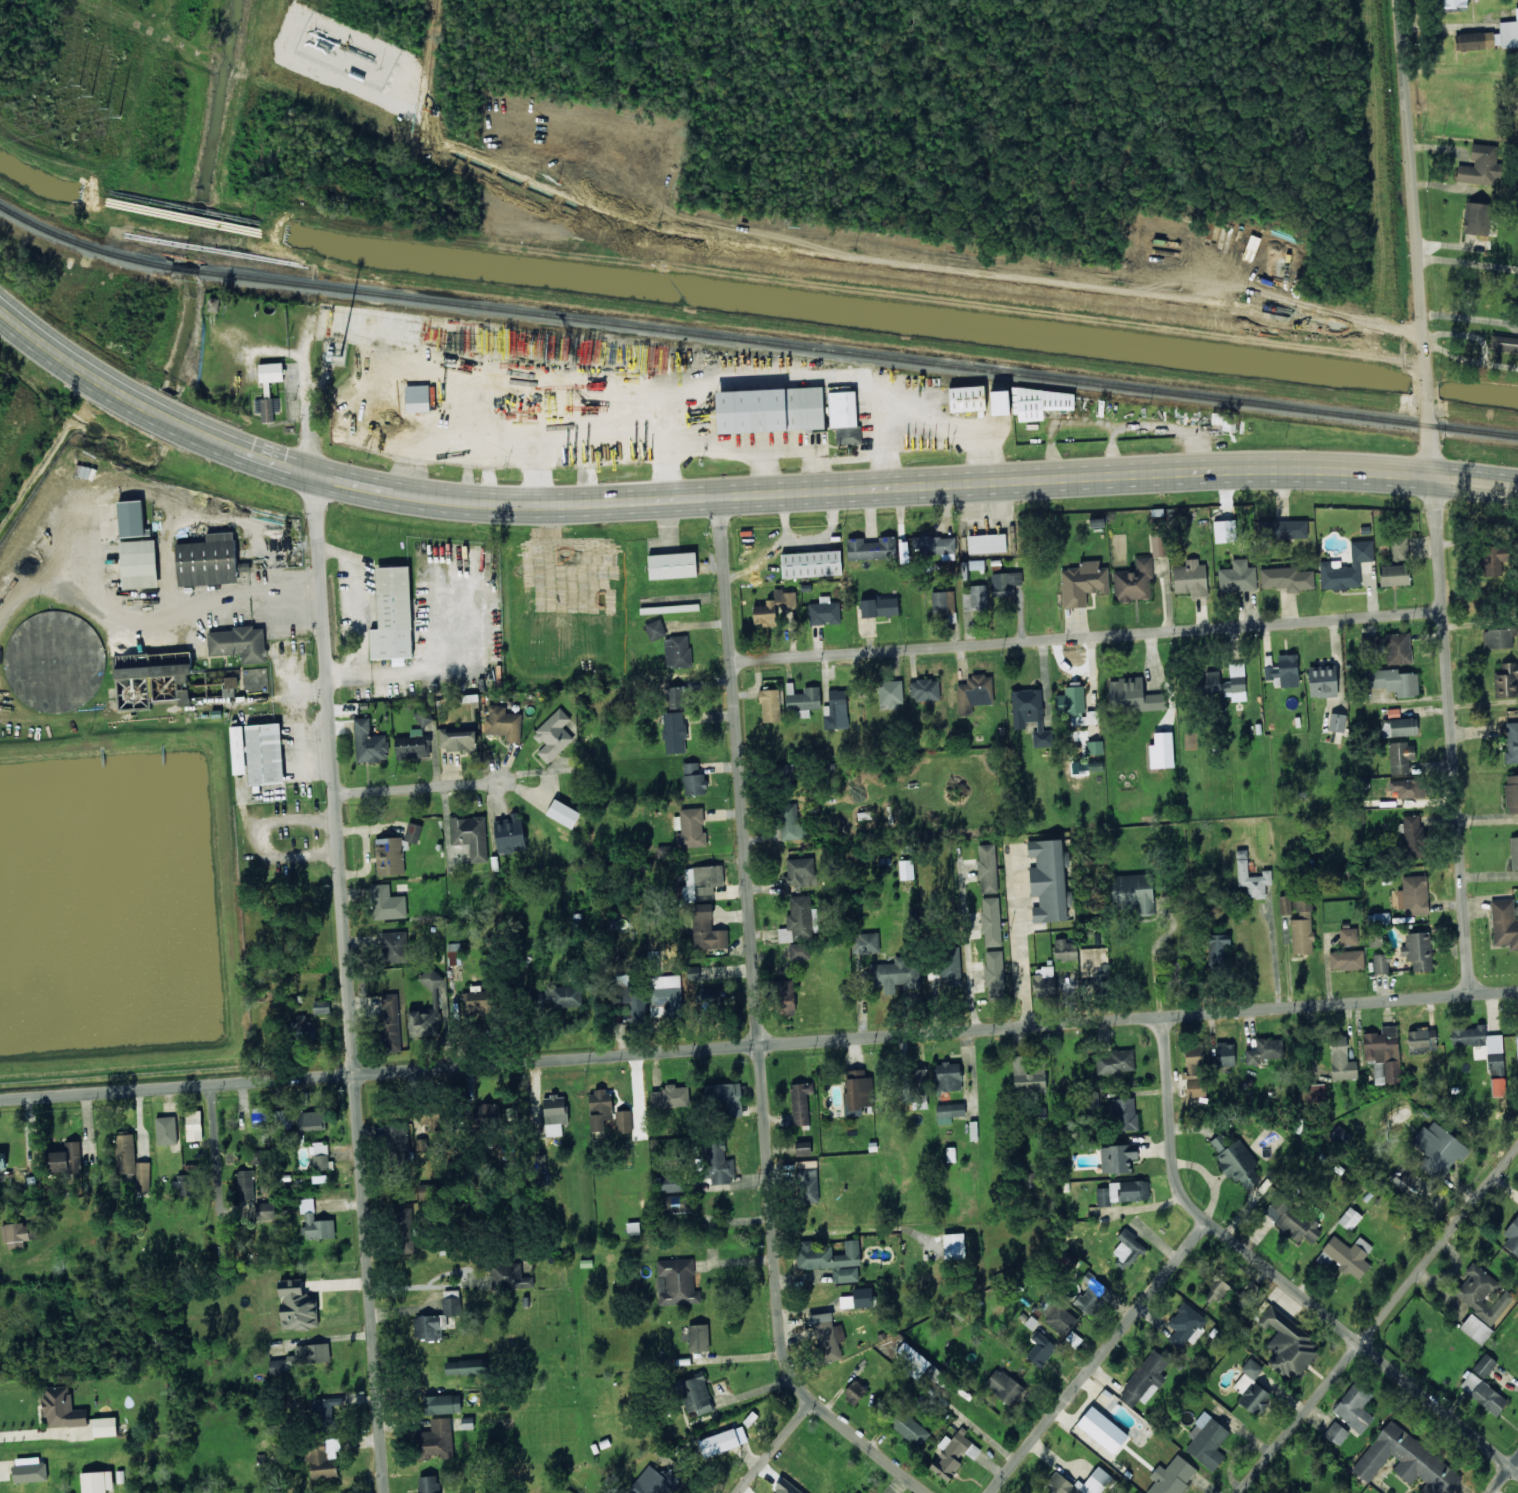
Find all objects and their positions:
building: (1454, 5)
building: (1490, 37)
building: (1480, 166)
building: (1475, 218)
road: (1468, 263)
building: (211, 304)
building: (374, 325)
railway: (753, 340)
building: (271, 372)
building: (417, 398)
building: (495, 399)
building: (967, 399)
building: (1000, 402)
building: (1040, 402)
building: (747, 407)
building: (267, 408)
building: (844, 416)
building: (1221, 423)
building: (84, 475)
road: (734, 495)
road: (1436, 498)
building: (131, 518)
building: (1285, 529)
building: (1224, 531)
building: (987, 543)
building: (935, 545)
building: (1158, 545)
building: (871, 548)
building: (1399, 548)
building: (1493, 559)
building: (207, 561)
building: (138, 562)
building: (810, 562)
building: (673, 564)
building: (1346, 567)
building: (1394, 575)
building: (1237, 576)
building: (1191, 578)
building: (1287, 578)
building: (1134, 582)
building: (1005, 583)
building: (1083, 583)
building: (979, 596)
building: (943, 602)
building: (773, 607)
building: (879, 607)
building: (394, 609)
building: (824, 611)
building: (1517, 614)
building: (655, 629)
road: (1088, 635)
building: (1498, 638)
building: (239, 643)
building: (1398, 648)
building: (677, 651)
building: (1284, 671)
building: (1506, 680)
building: (182, 681)
building: (1322, 681)
building: (1394, 681)
building: (1225, 683)
building: (229, 686)
building: (924, 689)
building: (891, 693)
building: (974, 693)
building: (1133, 696)
building: (183, 697)
building: (676, 697)
building: (1071, 699)
building: (770, 705)
building: (836, 710)
building: (1030, 714)
building: (423, 716)
building: (1084, 718)
building: (1337, 722)
building: (503, 723)
building: (1399, 727)
building: (674, 732)
building: (553, 735)
building: (457, 739)
building: (1512, 742)
building: (369, 743)
building: (413, 745)
building: (1095, 747)
building: (238, 750)
building: (1161, 750)
building: (263, 752)
building: (1401, 757)
building: (786, 772)
building: (694, 778)
road: (419, 785)
building: (1406, 789)
building: (1511, 794)
building: (563, 813)
building: (791, 823)
building: (690, 827)
building: (413, 832)
building: (509, 834)
building: (471, 836)
building: (1413, 836)
building: (1514, 852)
building: (389, 856)
building: (987, 868)
building: (906, 869)
building: (800, 872)
building: (1251, 877)
building: (708, 878)
building: (1049, 880)
building: (1133, 892)
building: (1413, 895)
building: (388, 903)
building: (1285, 905)
road: (343, 909)
building: (798, 920)
building: (991, 921)
building: (1504, 923)
building: (1302, 928)
building: (706, 929)
building: (1348, 936)
building: (1375, 939)
road: (1019, 940)
building: (865, 943)
building: (394, 947)
building: (1218, 948)
building: (1065, 949)
road: (966, 950)
building: (1418, 950)
building: (799, 951)
building: (455, 953)
road: (1153, 957)
building: (1346, 960)
building: (1381, 963)
building: (1094, 964)
building: (950, 965)
building: (1174, 971)
building: (895, 975)
building: (994, 975)
building: (431, 978)
building: (1044, 981)
building: (566, 996)
building: (716, 996)
building: (785, 997)
building: (475, 1002)
building: (322, 1006)
building: (389, 1023)
building: (424, 1023)
road: (758, 1025)
building: (299, 1028)
building: (1480, 1043)
building: (1517, 1045)
road: (758, 1047)
building: (1264, 1050)
building: (1383, 1054)
building: (1224, 1055)
building: (1341, 1059)
building: (1115, 1061)
building: (1194, 1071)
building: (948, 1076)
building: (1027, 1076)
building: (920, 1087)
building: (1498, 1087)
building: (857, 1092)
building: (1315, 1092)
building: (671, 1096)
building: (724, 1098)
building: (800, 1104)
building: (600, 1112)
building: (949, 1112)
building: (486, 1114)
building: (555, 1114)
building: (260, 1117)
building: (312, 1119)
building: (623, 1121)
building: (193, 1125)
building: (166, 1130)
building: (399, 1140)
building: (1219, 1142)
building: (420, 1145)
building: (803, 1148)
building: (1438, 1149)
building: (257, 1156)
building: (66, 1157)
building: (1117, 1158)
building: (321, 1161)
building: (2, 1162)
building: (132, 1162)
building: (718, 1163)
building: (1238, 1163)
building: (1399, 1179)
building: (808, 1181)
building: (184, 1184)
building: (246, 1184)
building: (670, 1184)
building: (428, 1191)
building: (1122, 1192)
building: (676, 1204)
building: (265, 1212)
building: (1349, 1218)
building: (1292, 1220)
building: (315, 1222)
building: (633, 1228)
building: (404, 1230)
building: (18, 1235)
building: (1512, 1236)
building: (954, 1246)
building: (1127, 1249)
building: (1348, 1255)
building: (831, 1259)
building: (509, 1276)
road: (1280, 1278)
building: (677, 1282)
building: (1215, 1289)
building: (1479, 1293)
building: (1092, 1295)
building: (858, 1298)
building: (297, 1306)
building: (437, 1317)
building: (1058, 1318)
road: (1377, 1319)
building: (1186, 1324)
building: (1476, 1329)
building: (827, 1336)
building: (698, 1338)
building: (1287, 1343)
building: (1041, 1350)
building: (310, 1354)
road: (1097, 1356)
building: (918, 1364)
building: (1484, 1365)
building: (465, 1367)
building: (1146, 1379)
building: (1004, 1386)
building: (1251, 1389)
building: (855, 1392)
building: (696, 1395)
building: (442, 1404)
building: (62, 1408)
building: (1354, 1408)
building: (325, 1414)
building: (104, 1427)
building: (908, 1427)
building: (1102, 1429)
building: (1336, 1433)
building: (436, 1439)
building: (1207, 1441)
building: (719, 1442)
road: (774, 1446)
building: (953, 1454)
building: (324, 1457)
building: (1407, 1461)
building: (29, 1469)
road: (1503, 1475)
building: (1172, 1476)
building: (654, 1481)
building: (1059, 1481)
building: (97, 1482)
building: (429, 1484)
building: (1137, 1492)

